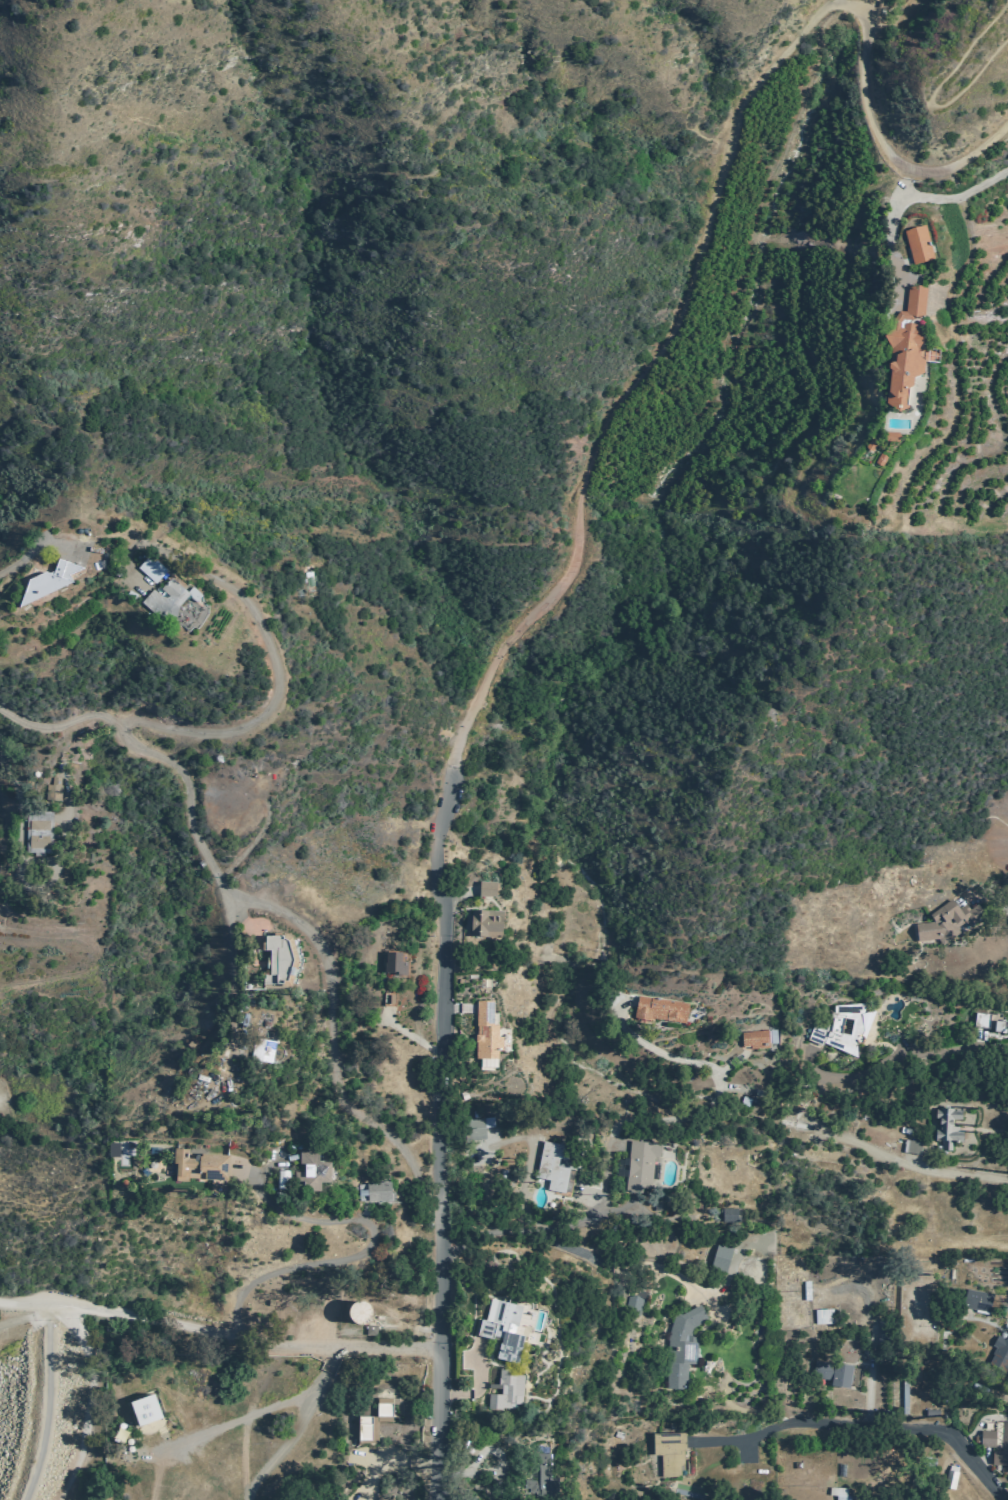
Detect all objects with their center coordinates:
road: (867, 7)
road: (933, 92)
road: (905, 183)
road: (942, 200)
building: (916, 246)
road: (704, 249)
building: (903, 350)
crop: (963, 397)
building: (889, 437)
building: (869, 446)
building: (878, 460)
road: (24, 559)
building: (150, 570)
building: (310, 582)
building: (47, 583)
building: (164, 602)
road: (242, 732)
road: (4, 763)
building: (53, 788)
building: (37, 832)
building: (485, 891)
road: (458, 894)
road: (989, 899)
road: (467, 908)
road: (234, 911)
building: (946, 920)
building: (483, 925)
road: (320, 946)
building: (278, 955)
building: (394, 964)
building: (387, 999)
road: (459, 1008)
building: (658, 1008)
building: (988, 1019)
building: (842, 1027)
building: (484, 1033)
road: (410, 1034)
building: (775, 1036)
building: (758, 1038)
building: (261, 1045)
road: (654, 1049)
road: (893, 1060)
road: (714, 1095)
road: (624, 1122)
building: (945, 1125)
building: (483, 1129)
road: (982, 1129)
road: (440, 1141)
building: (910, 1145)
building: (112, 1147)
building: (118, 1150)
building: (199, 1165)
building: (551, 1165)
building: (639, 1166)
road: (914, 1167)
building: (309, 1169)
building: (287, 1179)
building: (371, 1189)
building: (728, 1215)
road: (587, 1218)
road: (363, 1250)
road: (575, 1251)
building: (718, 1259)
building: (975, 1298)
building: (631, 1305)
building: (357, 1309)
storage tank: (357, 1309)
building: (367, 1312)
building: (826, 1316)
road: (23, 1318)
road: (0, 1325)
building: (501, 1327)
building: (369, 1329)
road: (220, 1331)
building: (881, 1331)
road: (557, 1335)
building: (680, 1347)
building: (999, 1353)
building: (833, 1373)
road: (478, 1383)
building: (505, 1389)
road: (867, 1392)
road: (88, 1400)
road: (47, 1402)
building: (145, 1410)
dam: (39, 1411)
building: (377, 1421)
road: (902, 1425)
road: (298, 1428)
building: (985, 1437)
road: (732, 1441)
building: (1001, 1446)
building: (668, 1450)
road: (886, 1465)
road: (500, 1470)
building: (536, 1477)
building: (949, 1478)
building: (841, 1493)
building: (388, 1499)

